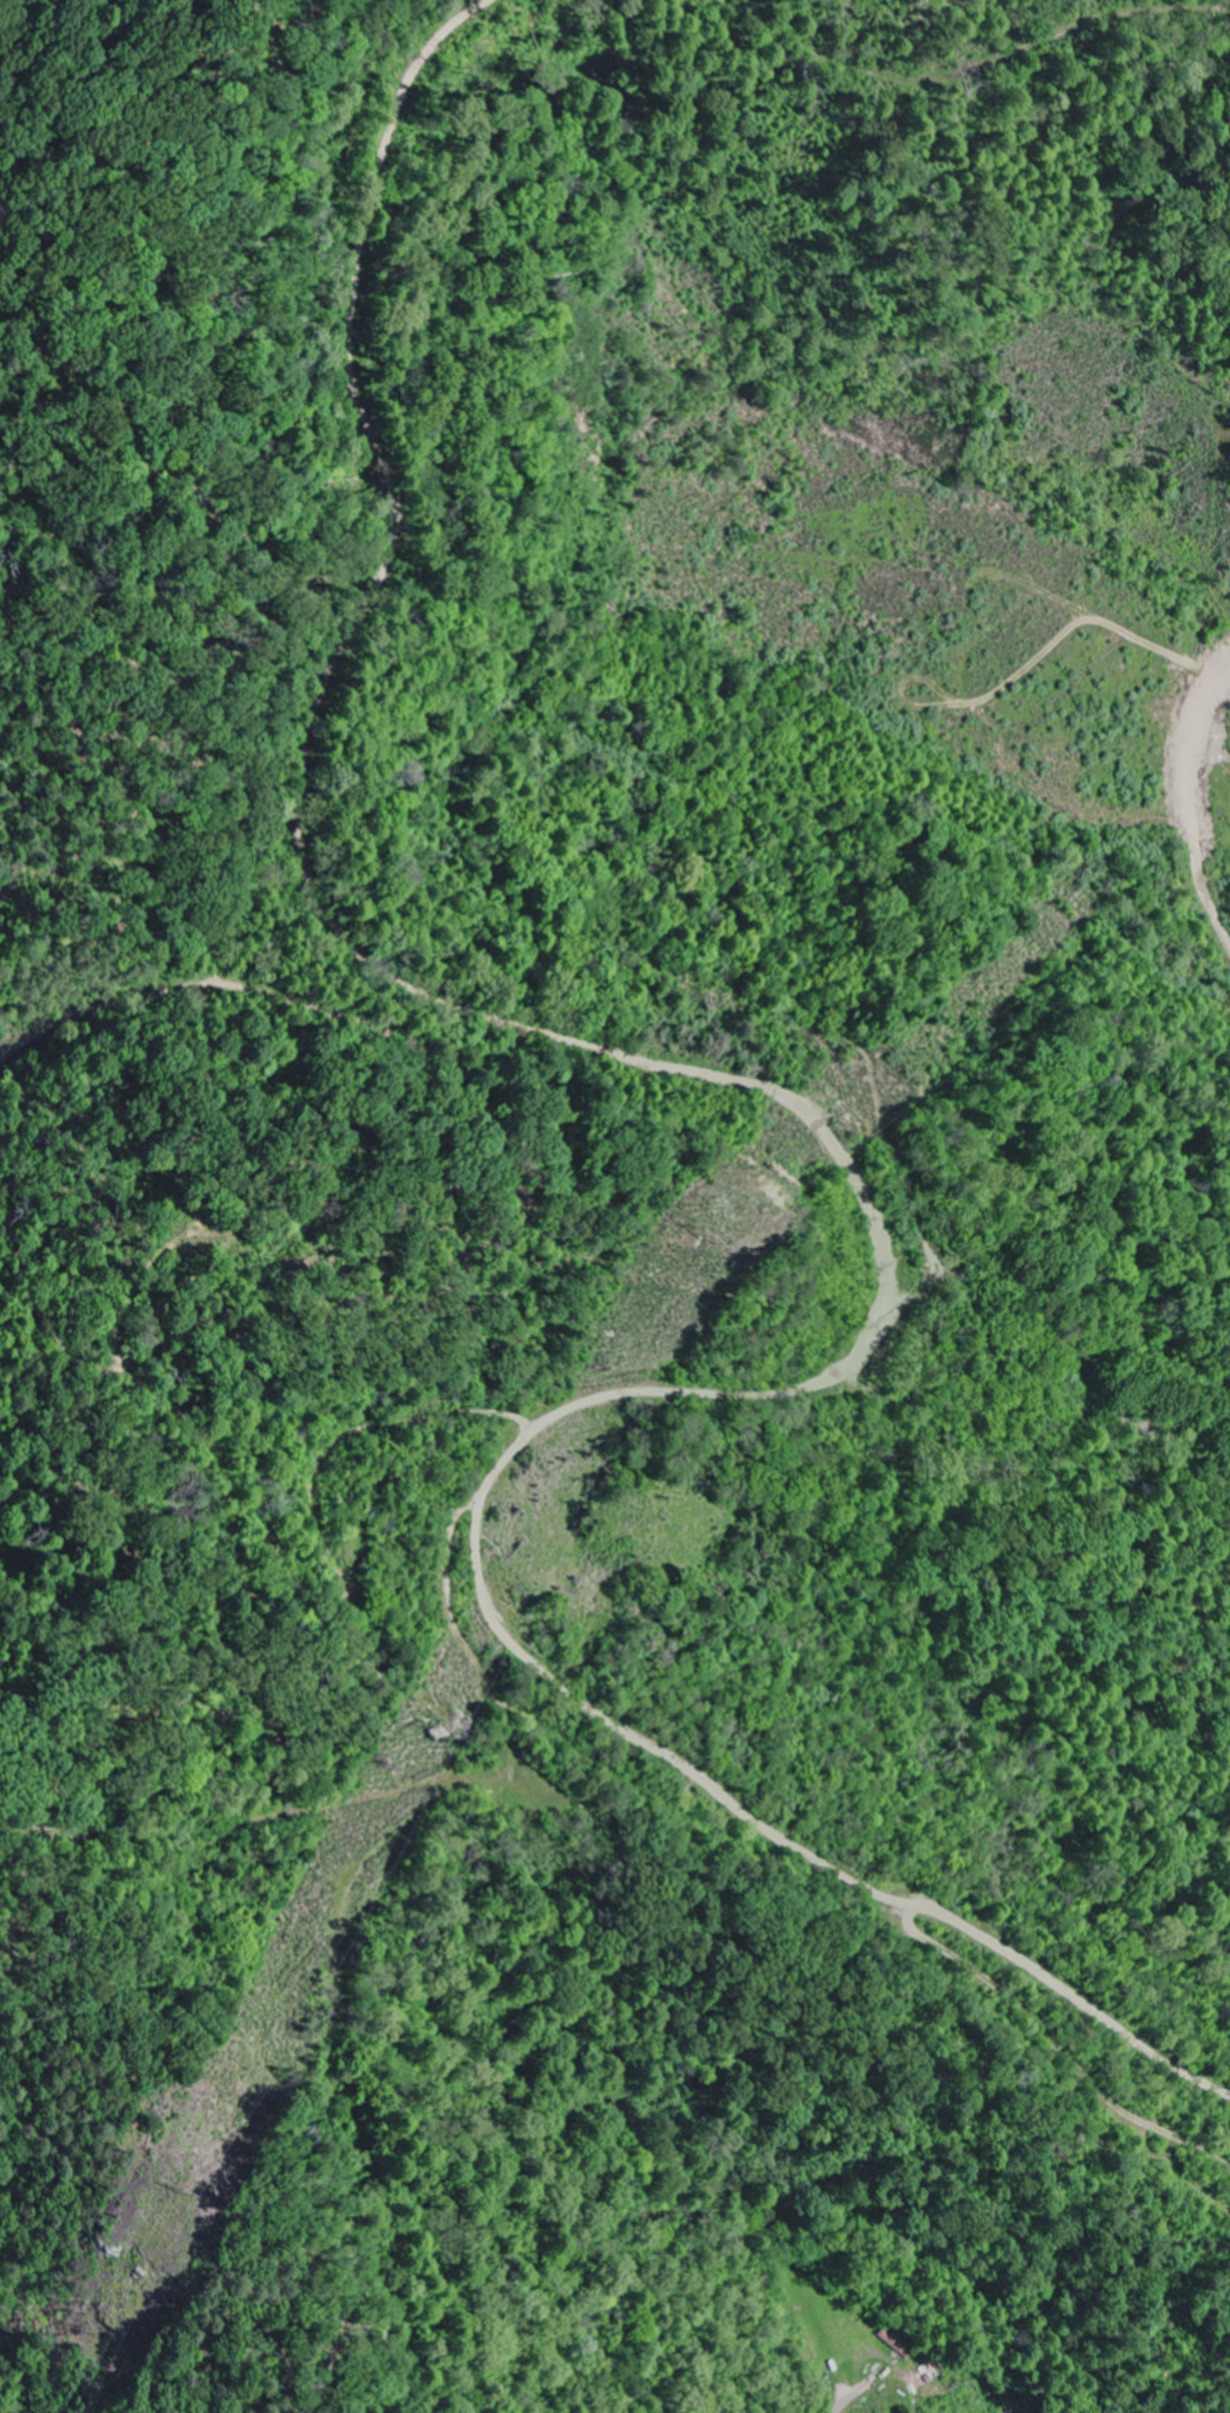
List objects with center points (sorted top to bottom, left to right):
road: (297, 368)
road: (258, 901)

